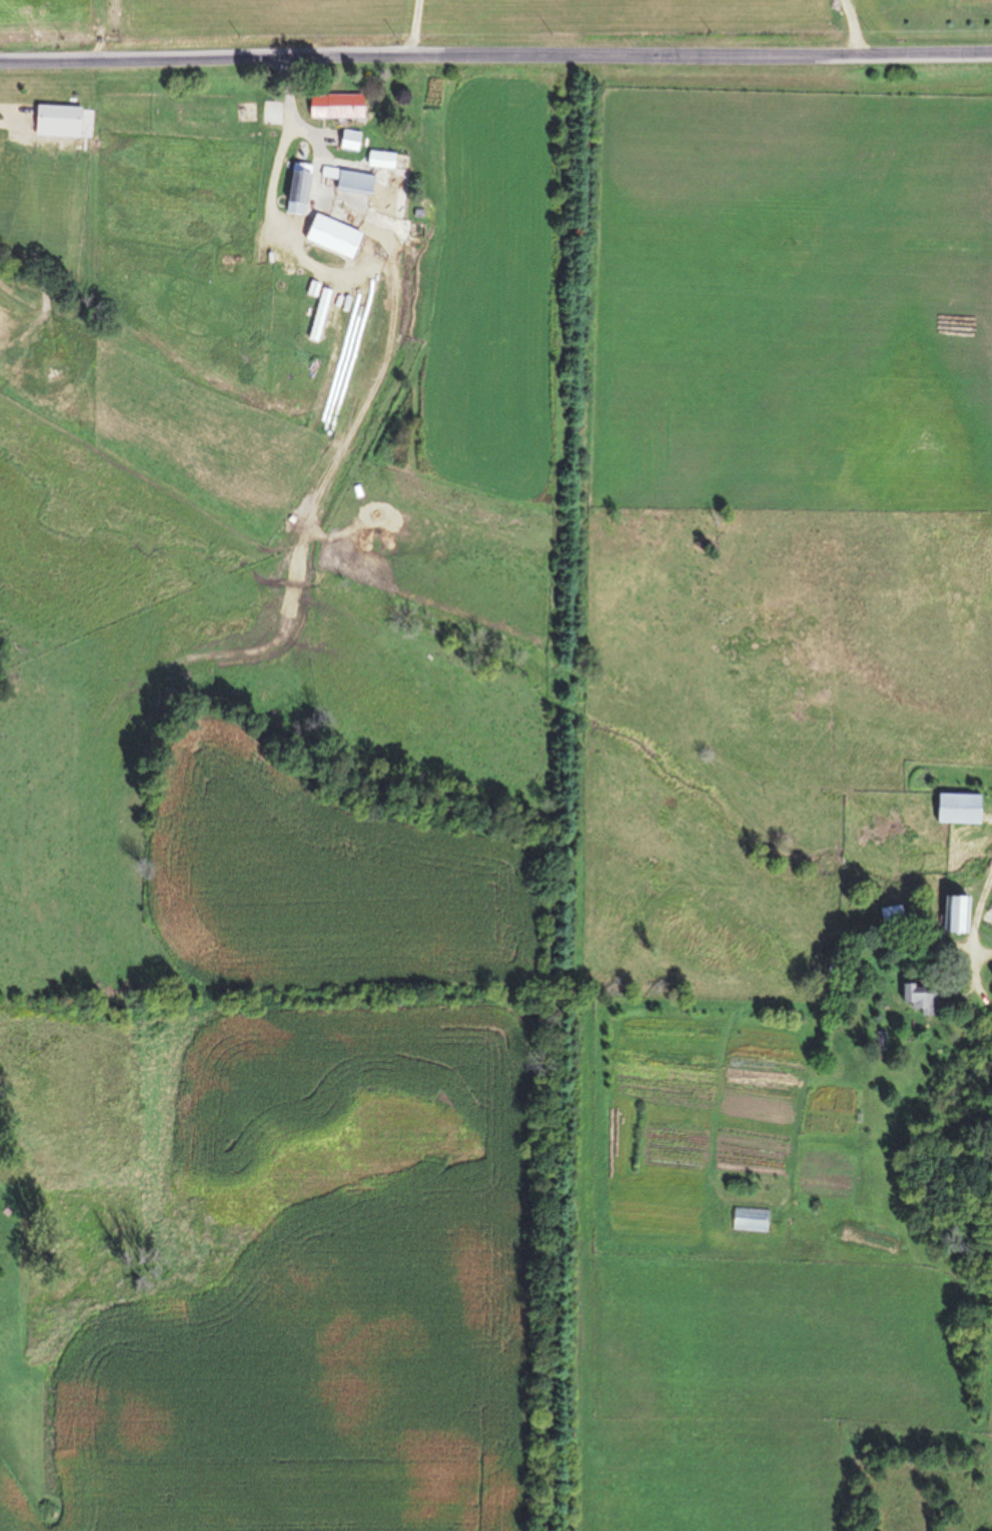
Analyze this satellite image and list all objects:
road: (495, 54)
building: (331, 107)
building: (54, 122)
building: (346, 140)
building: (378, 160)
building: (347, 181)
building: (294, 188)
building: (323, 236)
building: (954, 808)
building: (889, 914)
building: (952, 914)
road: (978, 921)
building: (919, 1001)

